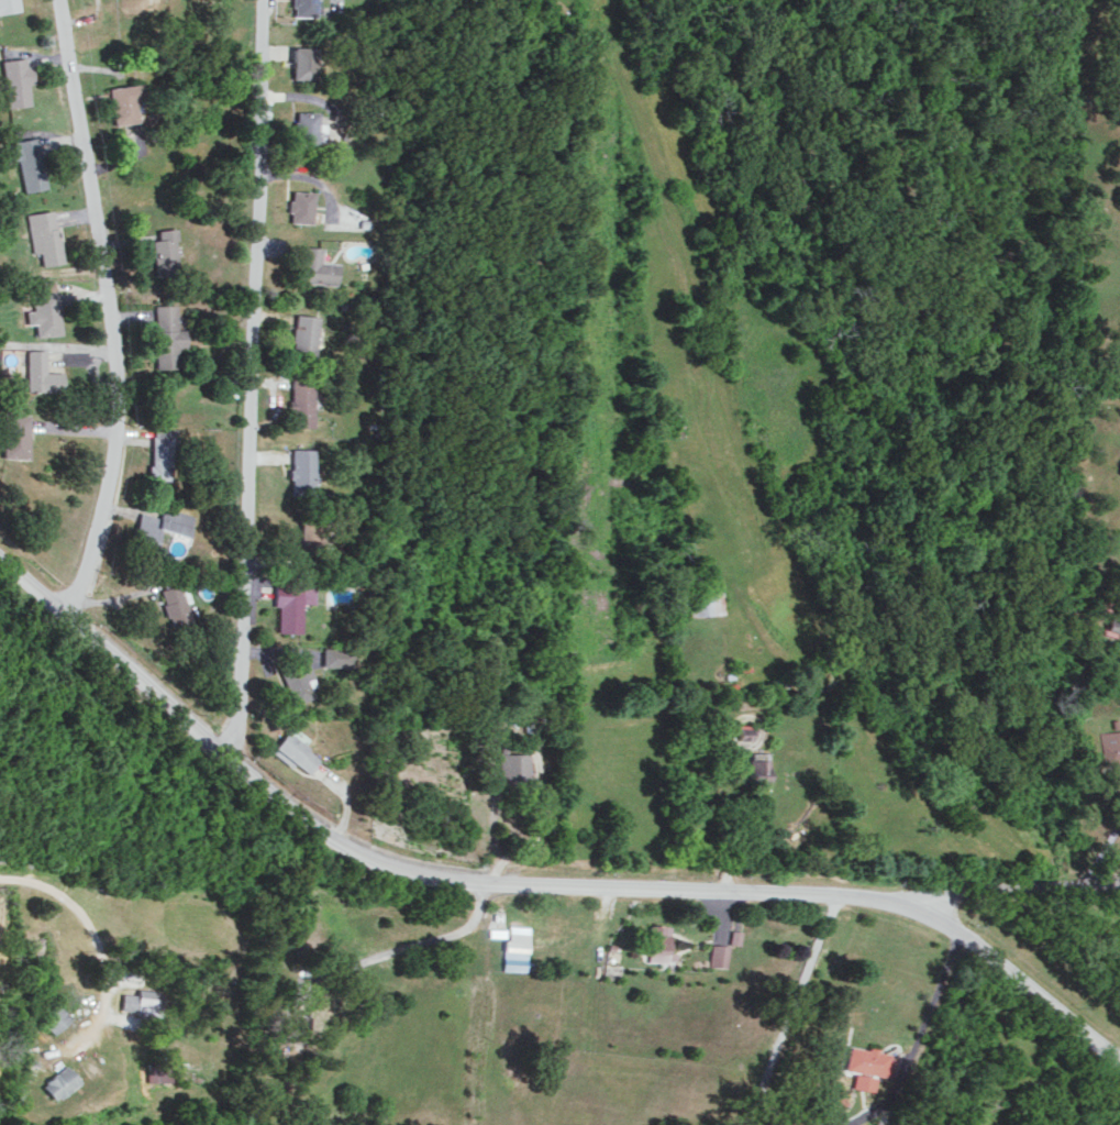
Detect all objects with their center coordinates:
building: (7, 5)
building: (302, 7)
building: (302, 62)
building: (14, 80)
building: (121, 102)
building: (304, 126)
building: (25, 161)
building: (299, 205)
building: (43, 236)
building: (165, 251)
building: (314, 266)
building: (44, 307)
road: (108, 311)
building: (304, 331)
building: (166, 334)
building: (40, 372)
road: (249, 379)
building: (300, 401)
building: (13, 434)
building: (159, 452)
building: (299, 470)
building: (1119, 472)
building: (156, 527)
building: (308, 532)
building: (289, 580)
building: (703, 602)
building: (174, 604)
building: (290, 604)
building: (1118, 628)
building: (335, 657)
building: (296, 679)
building: (743, 731)
building: (1108, 742)
building: (293, 751)
building: (510, 768)
building: (755, 768)
road: (533, 882)
road: (1017, 889)
building: (496, 931)
building: (735, 936)
building: (661, 944)
building: (515, 948)
road: (392, 951)
building: (720, 955)
road: (931, 1000)
building: (138, 1001)
road: (791, 1011)
building: (54, 1017)
building: (284, 1022)
building: (869, 1061)
building: (156, 1070)
building: (862, 1081)
building: (55, 1082)

